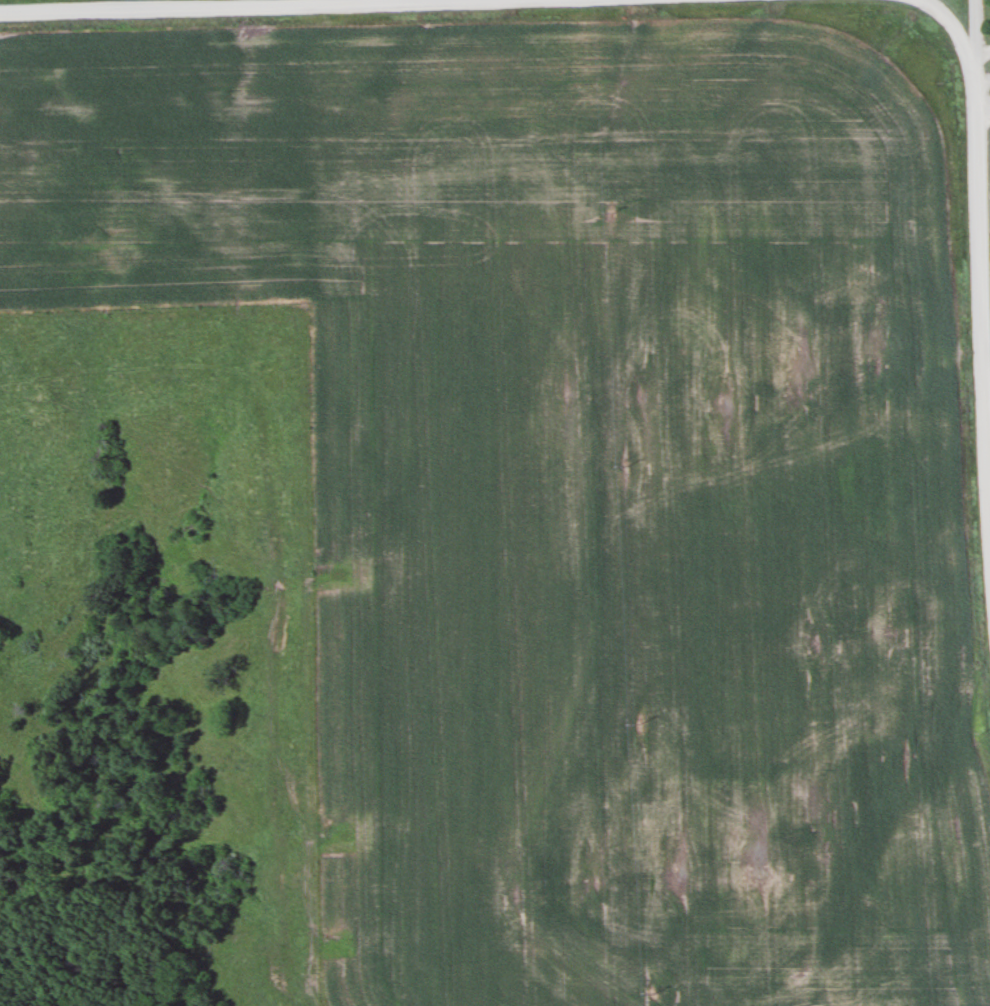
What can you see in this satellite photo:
road: (198, 4)
road: (956, 29)
road: (976, 205)
crop: (646, 513)

